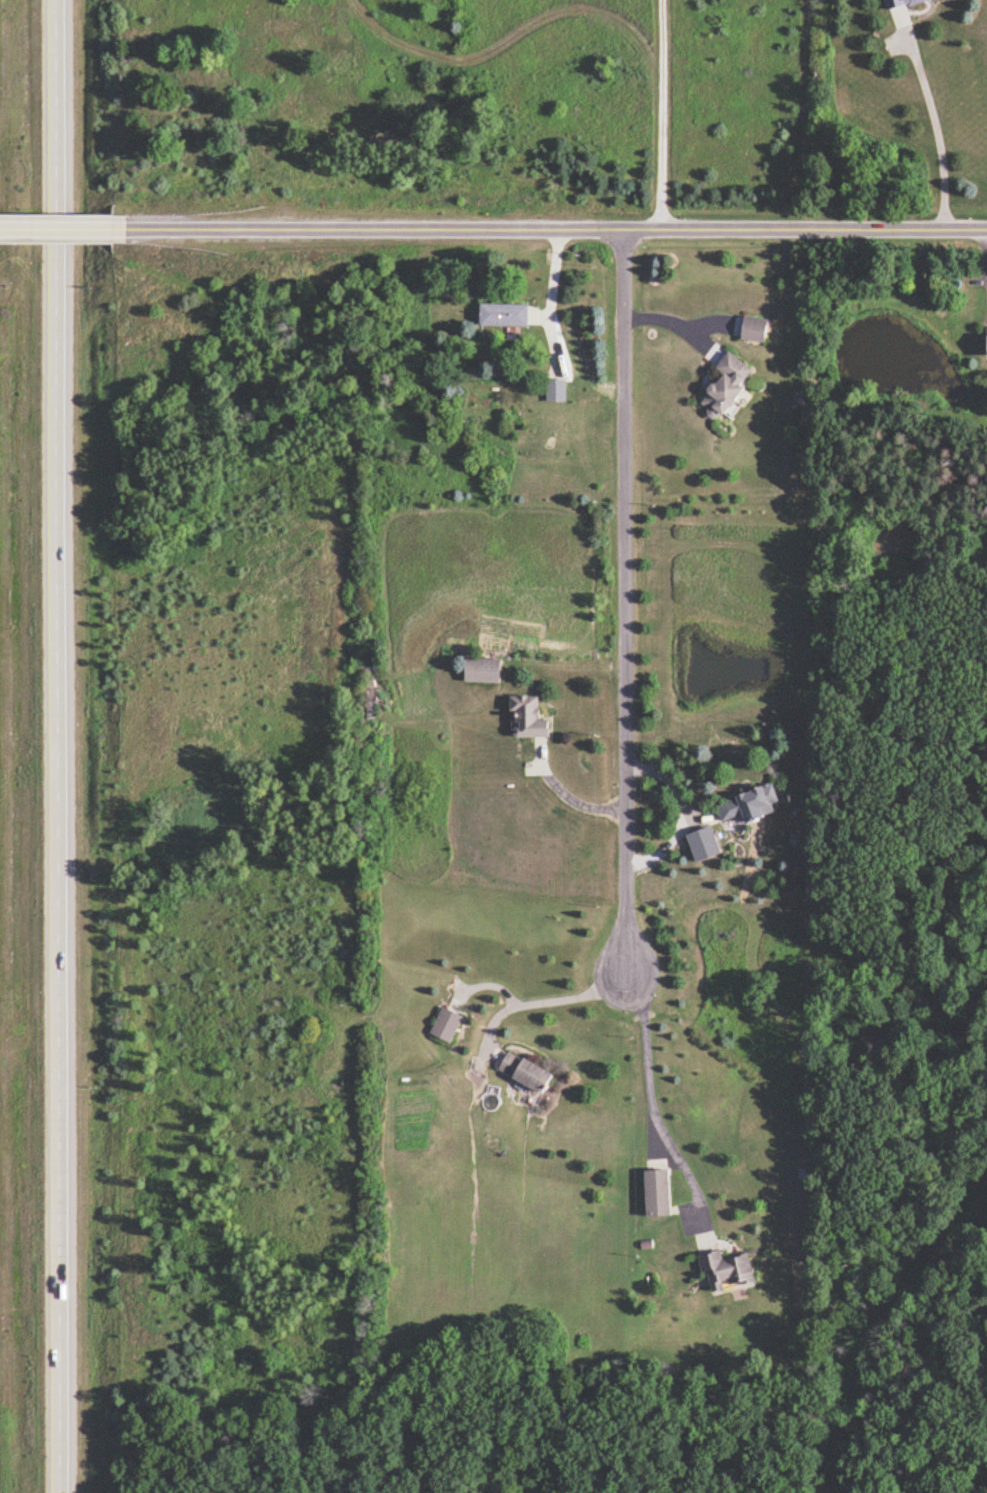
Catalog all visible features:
building: (902, 3)
road: (666, 113)
road: (935, 130)
road: (559, 226)
road: (66, 227)
road: (548, 292)
building: (506, 314)
road: (675, 319)
building: (759, 329)
building: (732, 385)
building: (557, 389)
road: (624, 597)
building: (485, 670)
building: (529, 718)
road: (59, 746)
road: (569, 796)
building: (753, 806)
road: (685, 811)
building: (707, 844)
road: (542, 996)
building: (449, 1023)
building: (529, 1071)
road: (648, 1102)
building: (659, 1191)
building: (728, 1269)

